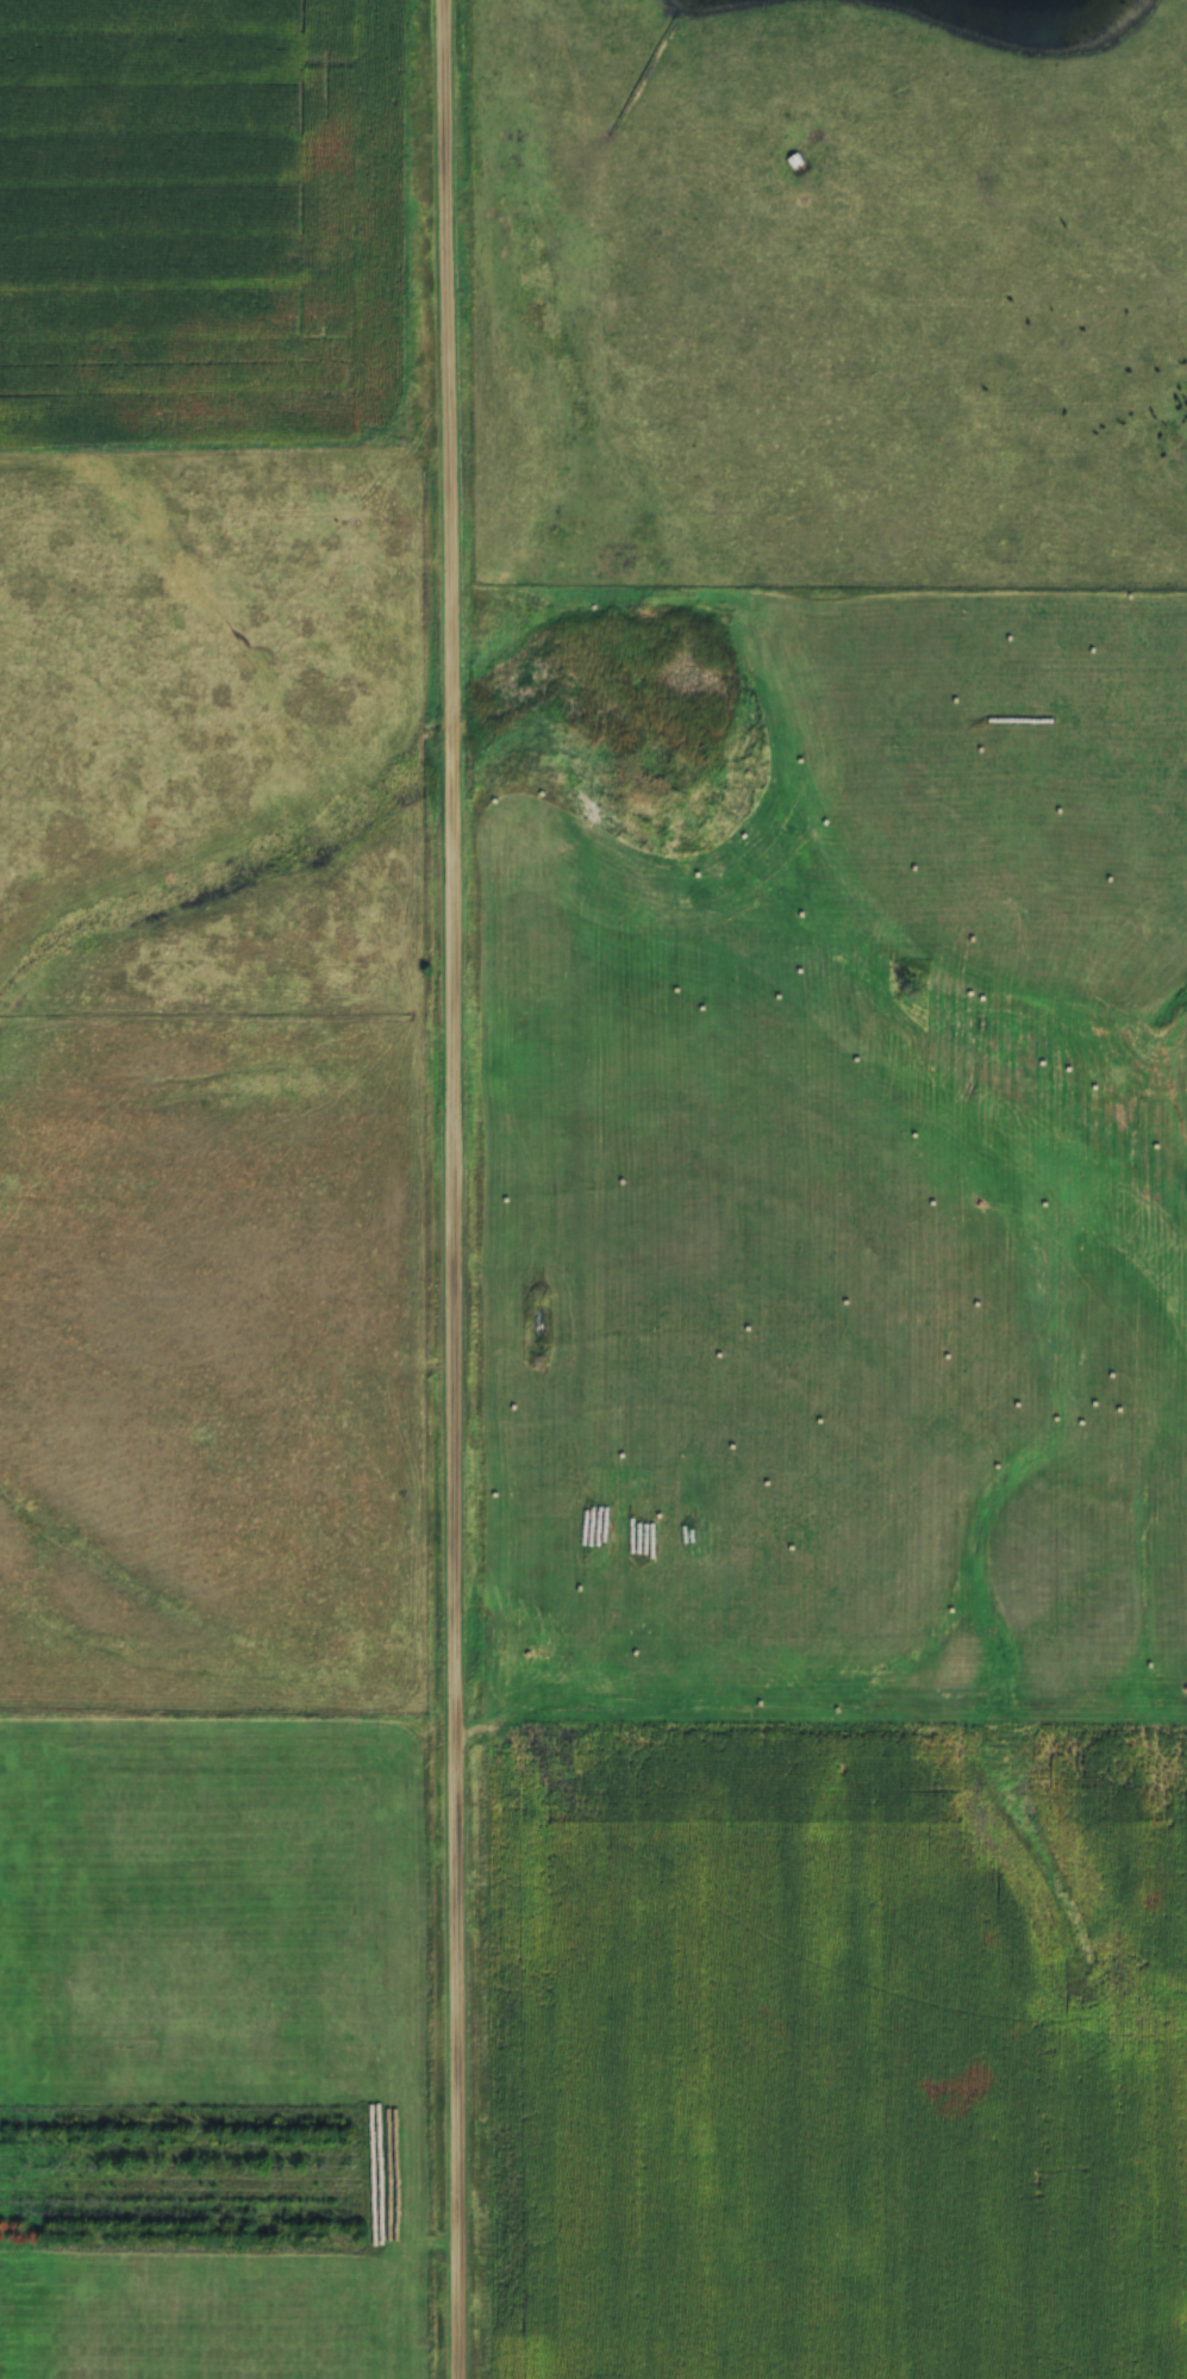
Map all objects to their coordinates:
road: (451, 1189)

